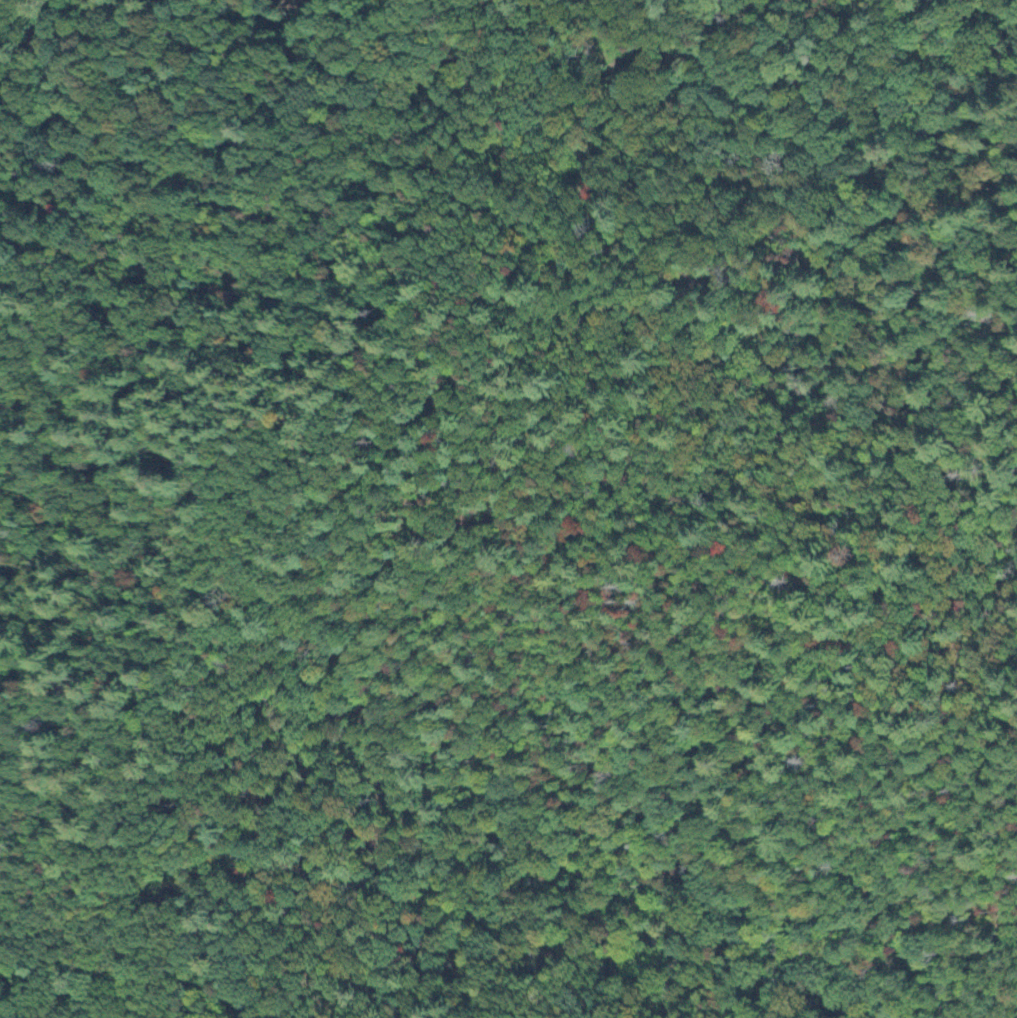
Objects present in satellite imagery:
road: (774, 327)
road: (273, 795)

